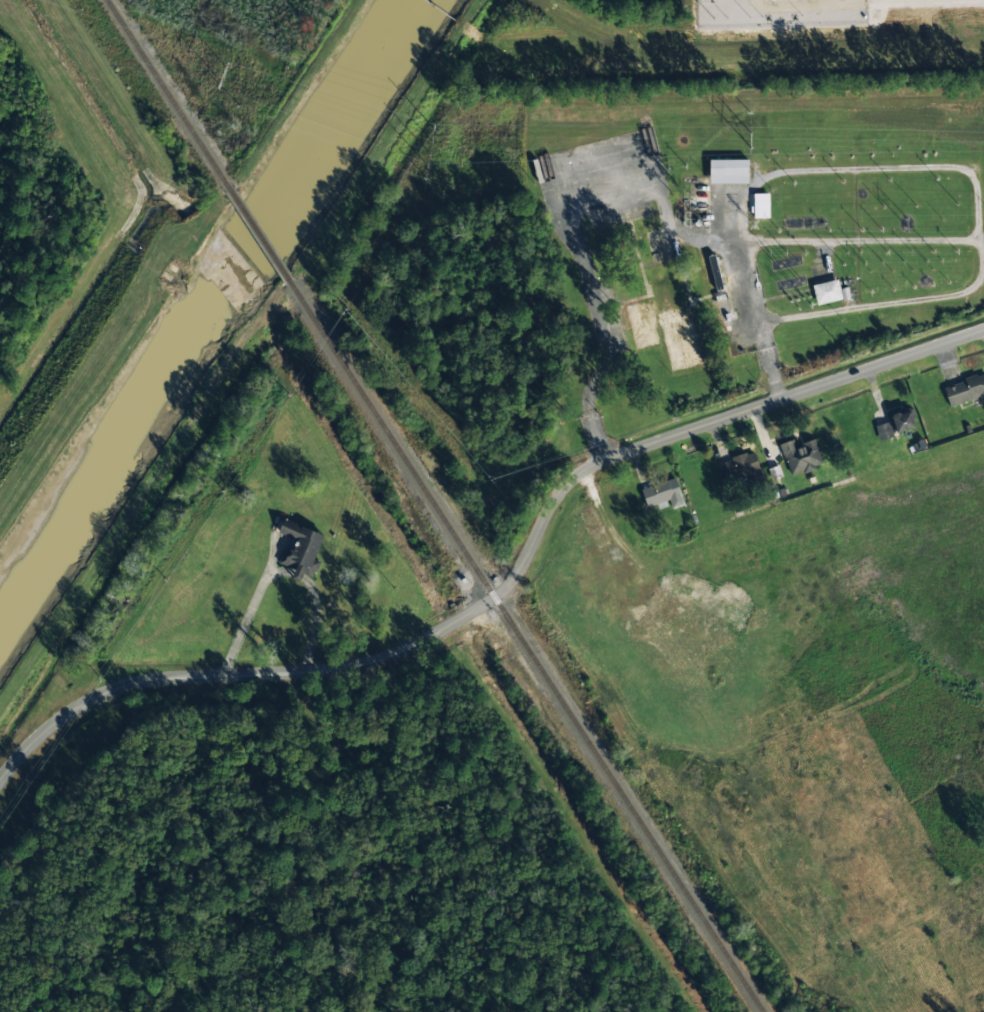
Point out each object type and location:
railway: (166, 93)
power tower: (436, 169)
building: (728, 172)
building: (760, 206)
railway: (257, 235)
building: (829, 292)
building: (641, 325)
building: (681, 347)
building: (965, 391)
building: (902, 421)
building: (883, 431)
building: (800, 456)
building: (739, 467)
building: (662, 493)
building: (301, 550)
road: (506, 584)
railway: (525, 647)

